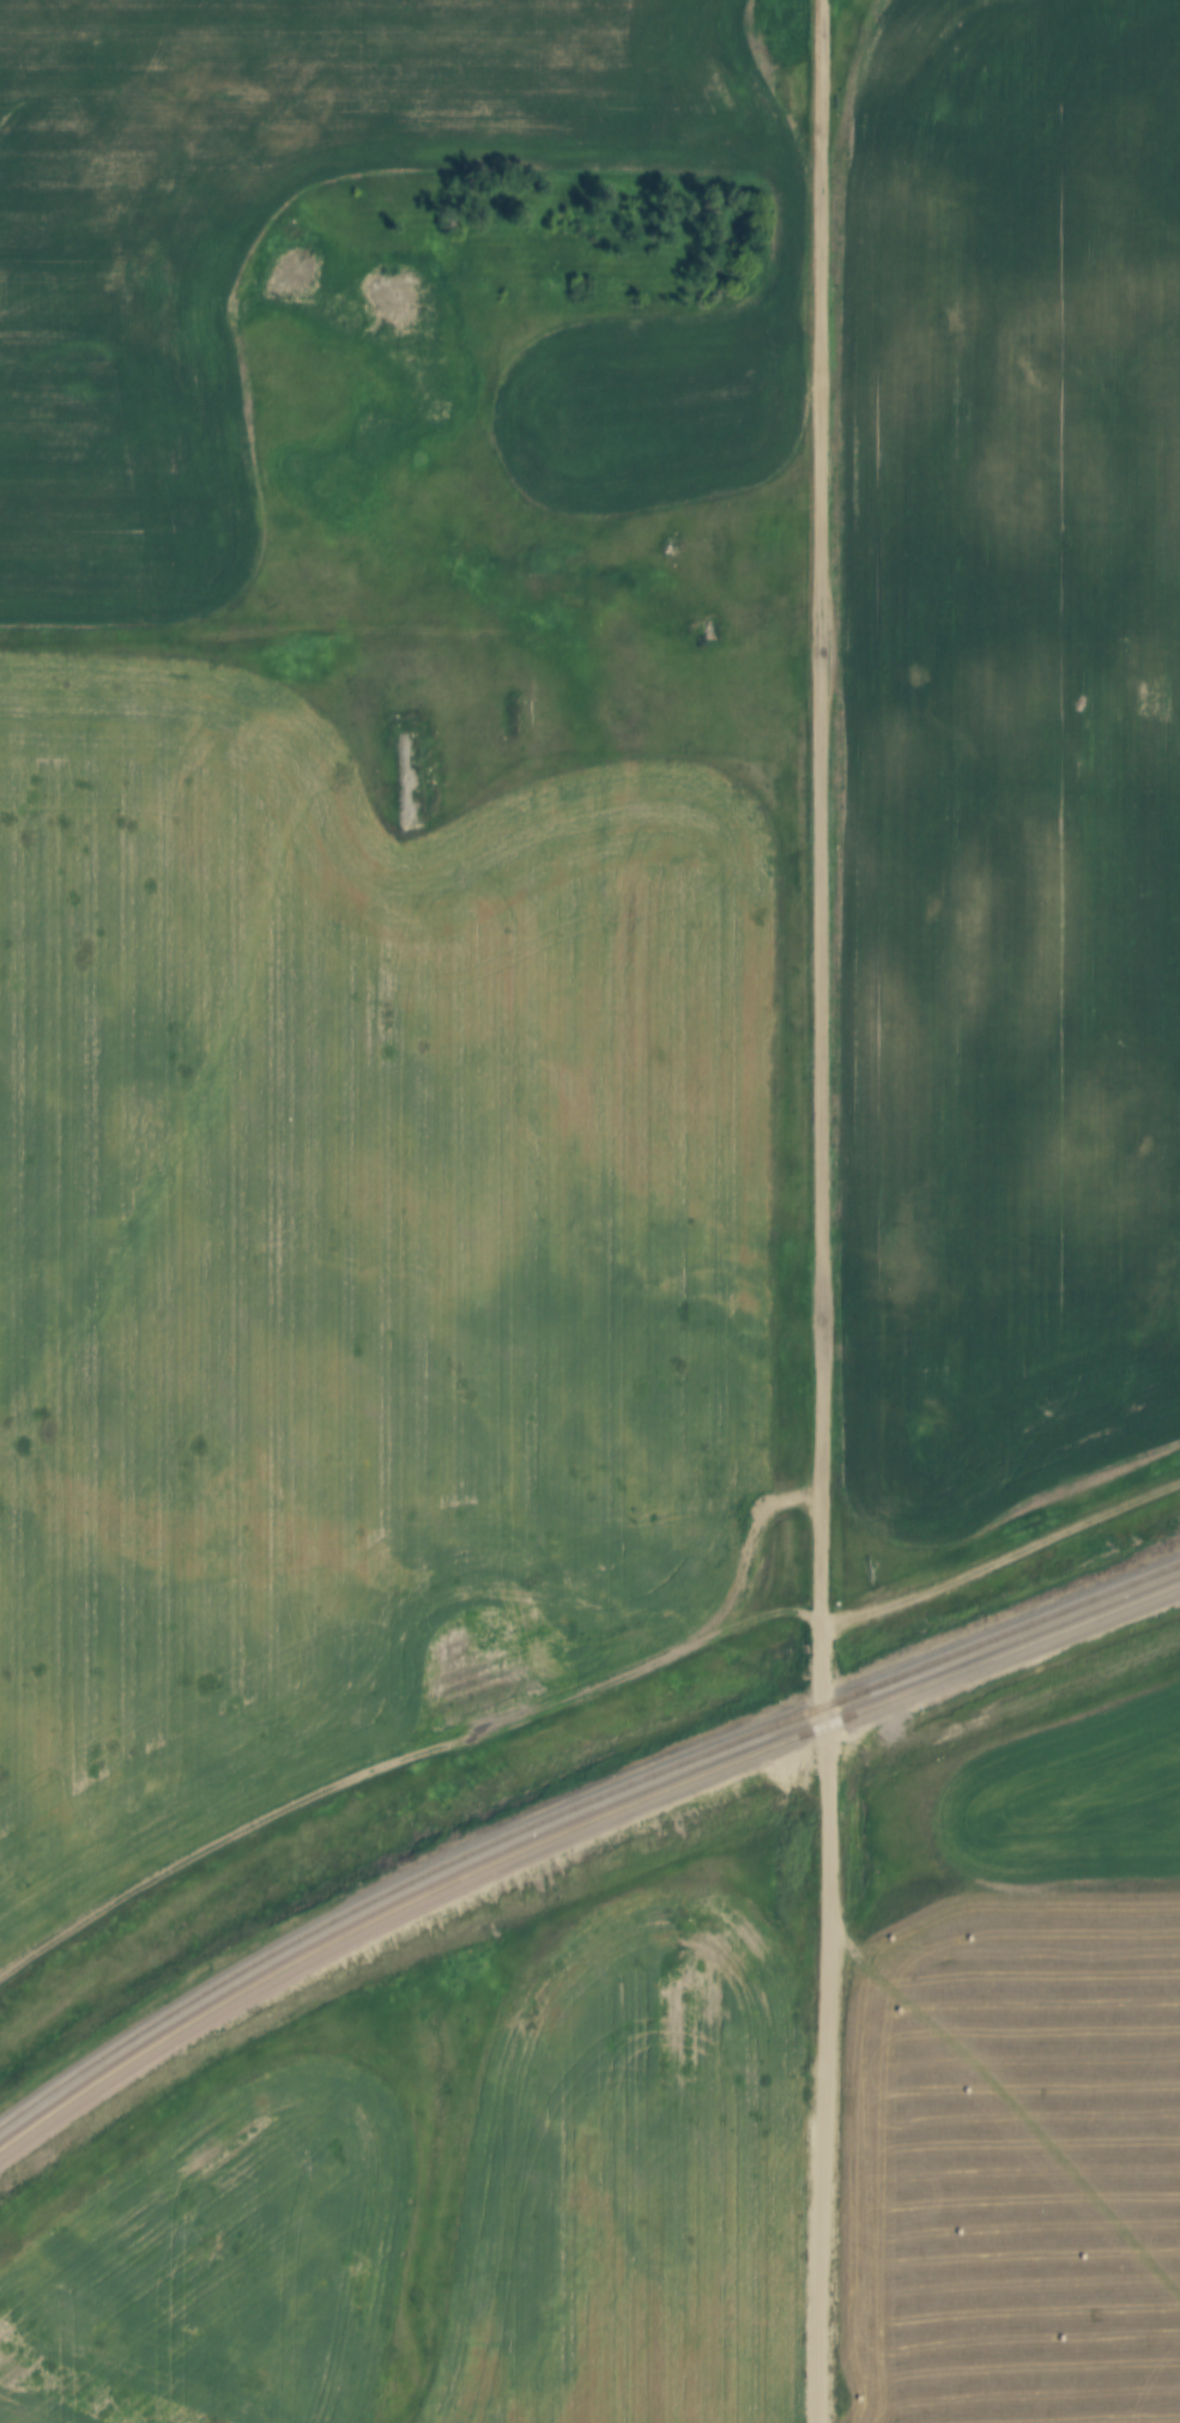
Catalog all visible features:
road: (822, 1211)
road: (431, 1743)
railway: (571, 1813)
railway: (570, 1833)

